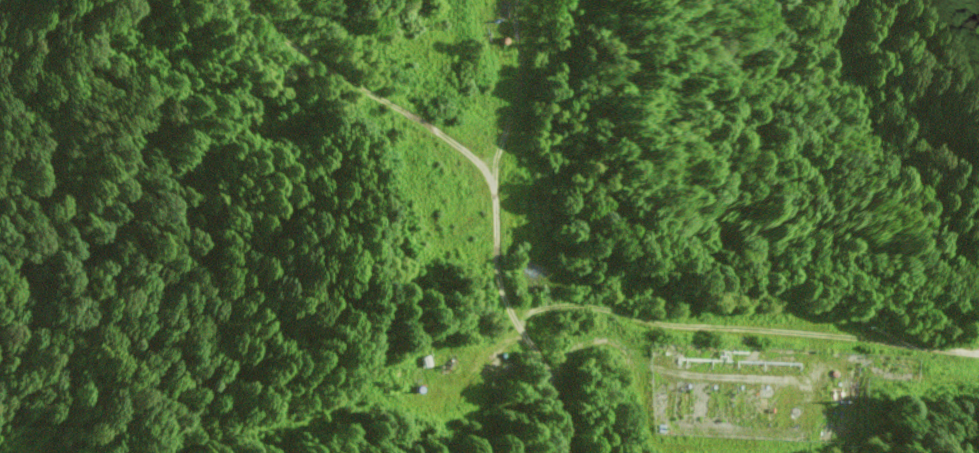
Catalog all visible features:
road: (521, 88)
road: (492, 171)
road: (742, 325)
building: (687, 398)
building: (712, 401)

